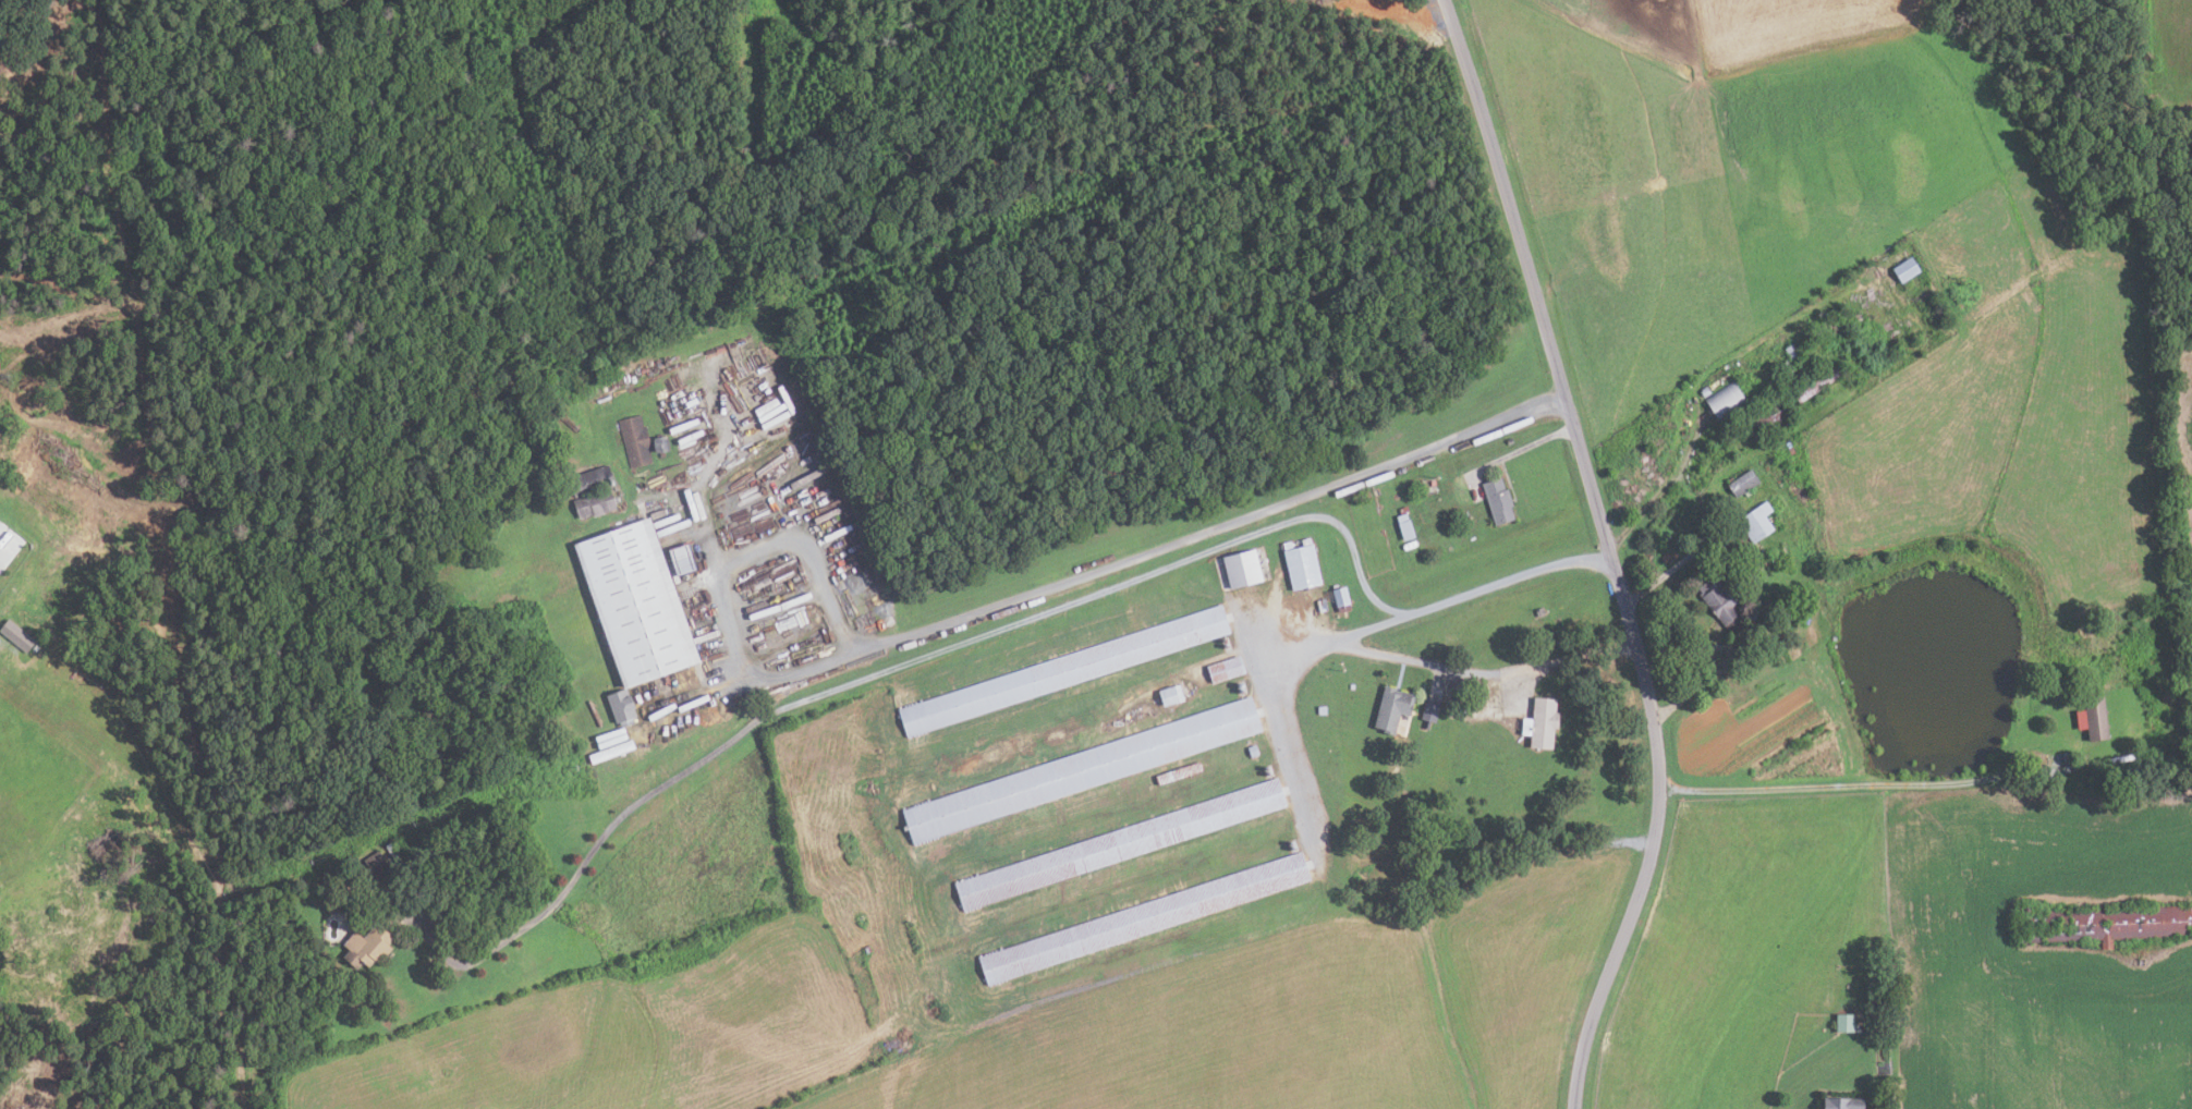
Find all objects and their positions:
building: (1903, 269)
building: (1790, 351)
building: (1786, 367)
building: (1817, 385)
building: (1725, 401)
building: (1767, 424)
building: (636, 441)
building: (662, 444)
road: (704, 472)
building: (593, 480)
building: (1740, 483)
building: (1497, 500)
building: (596, 503)
building: (1754, 523)
building: (1402, 526)
building: (9, 541)
road: (1605, 552)
building: (1768, 559)
building: (1305, 568)
building: (1245, 569)
building: (1343, 596)
building: (1720, 600)
road: (1009, 601)
building: (640, 604)
road: (1375, 624)
road: (997, 627)
building: (14, 636)
building: (2, 638)
building: (1227, 670)
building: (1067, 671)
road: (1493, 681)
building: (1172, 694)
building: (624, 707)
building: (1390, 707)
building: (1429, 709)
building: (2091, 719)
road: (1277, 721)
building: (1541, 722)
building: (609, 744)
building: (1254, 751)
building: (1083, 770)
building: (1180, 772)
road: (1864, 785)
building: (1123, 843)
building: (378, 865)
building: (1145, 918)
building: (2104, 924)
building: (370, 947)
building: (77, 960)
building: (1843, 1023)
building: (1839, 1104)

